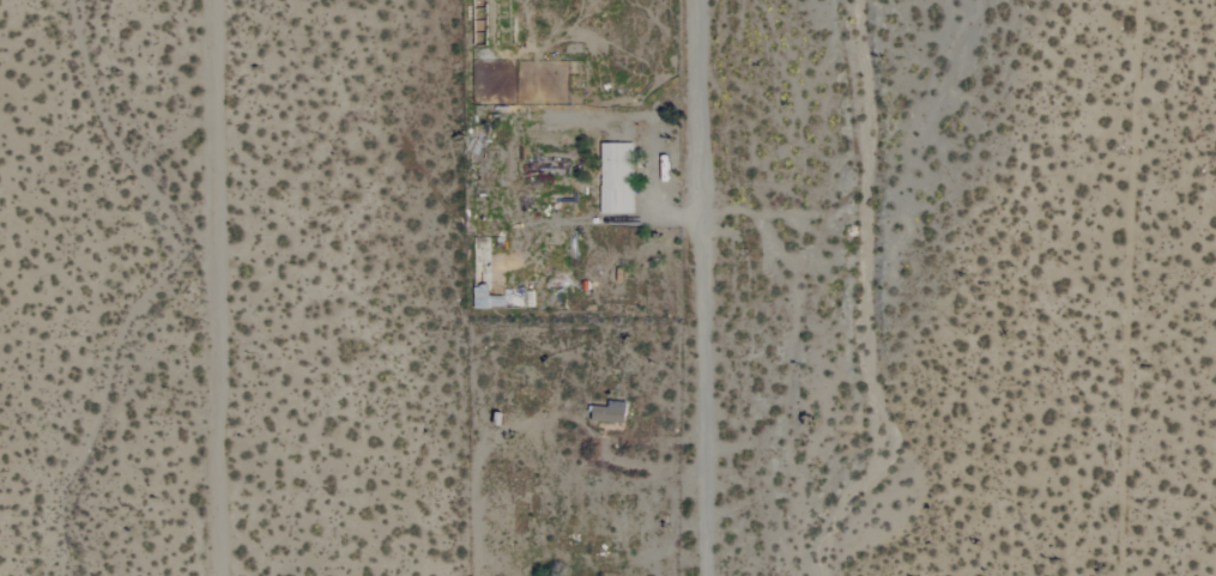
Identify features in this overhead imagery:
road: (207, 287)
road: (701, 287)
road: (639, 498)

